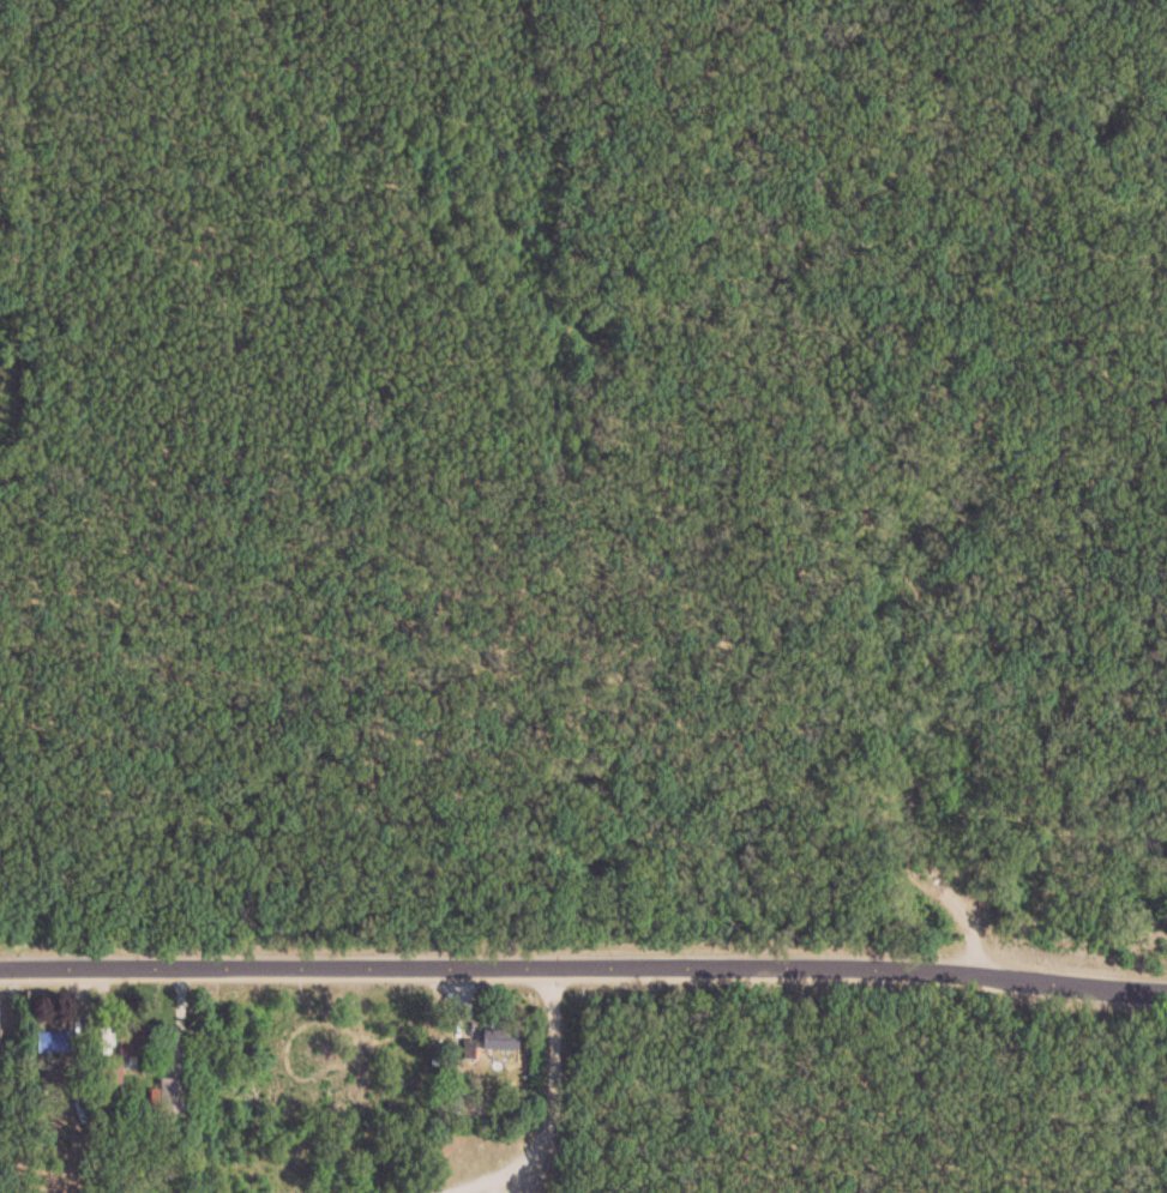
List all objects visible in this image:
road: (583, 966)
building: (504, 1038)
building: (56, 1042)
building: (1, 1043)
building: (128, 1052)
road: (17, 1081)
road: (553, 1122)

